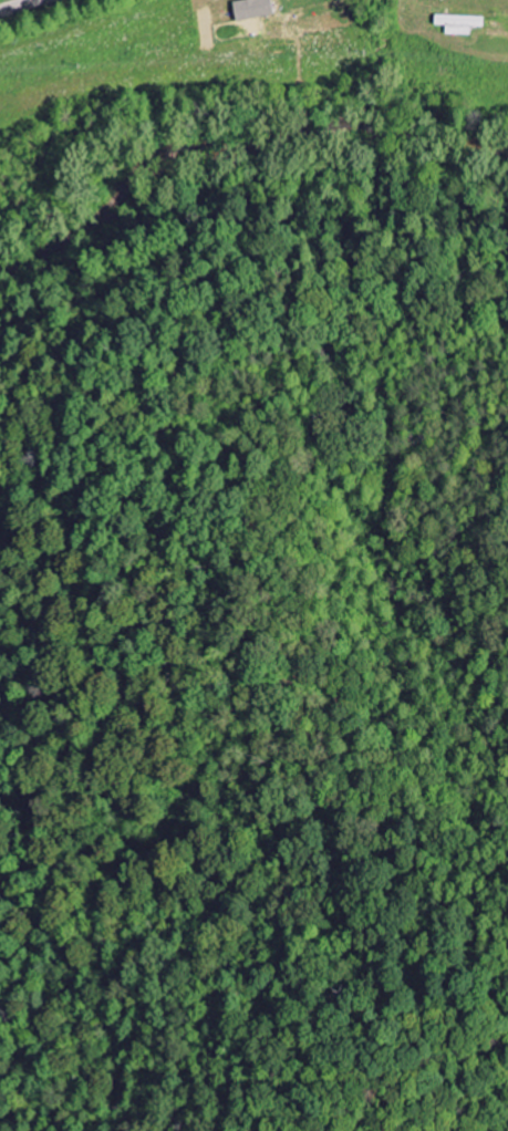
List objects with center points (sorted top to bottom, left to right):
road: (15, 4)
building: (256, 8)
building: (463, 23)

